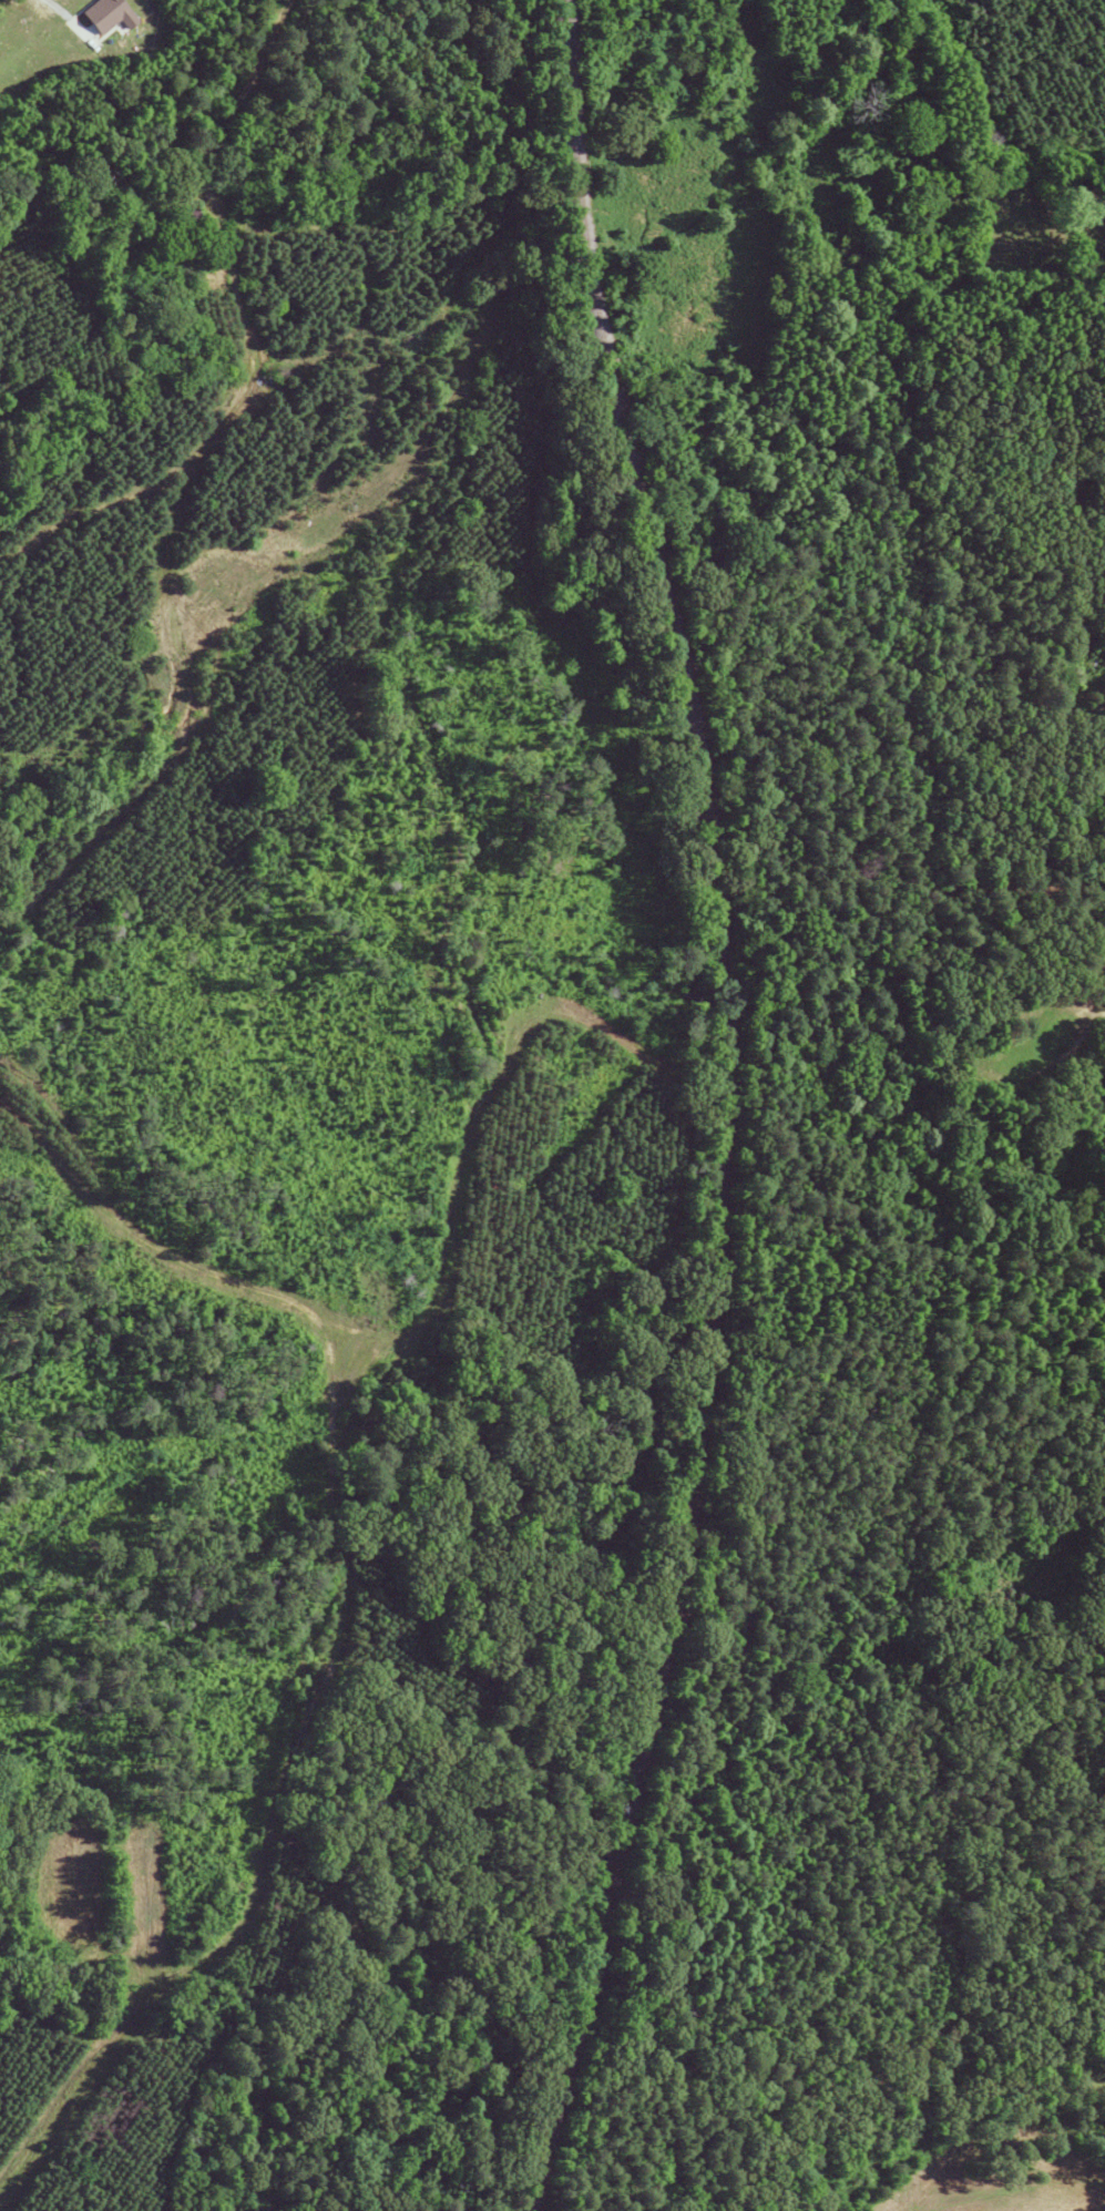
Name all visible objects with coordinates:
road: (1078, 452)
railway: (765, 1107)

